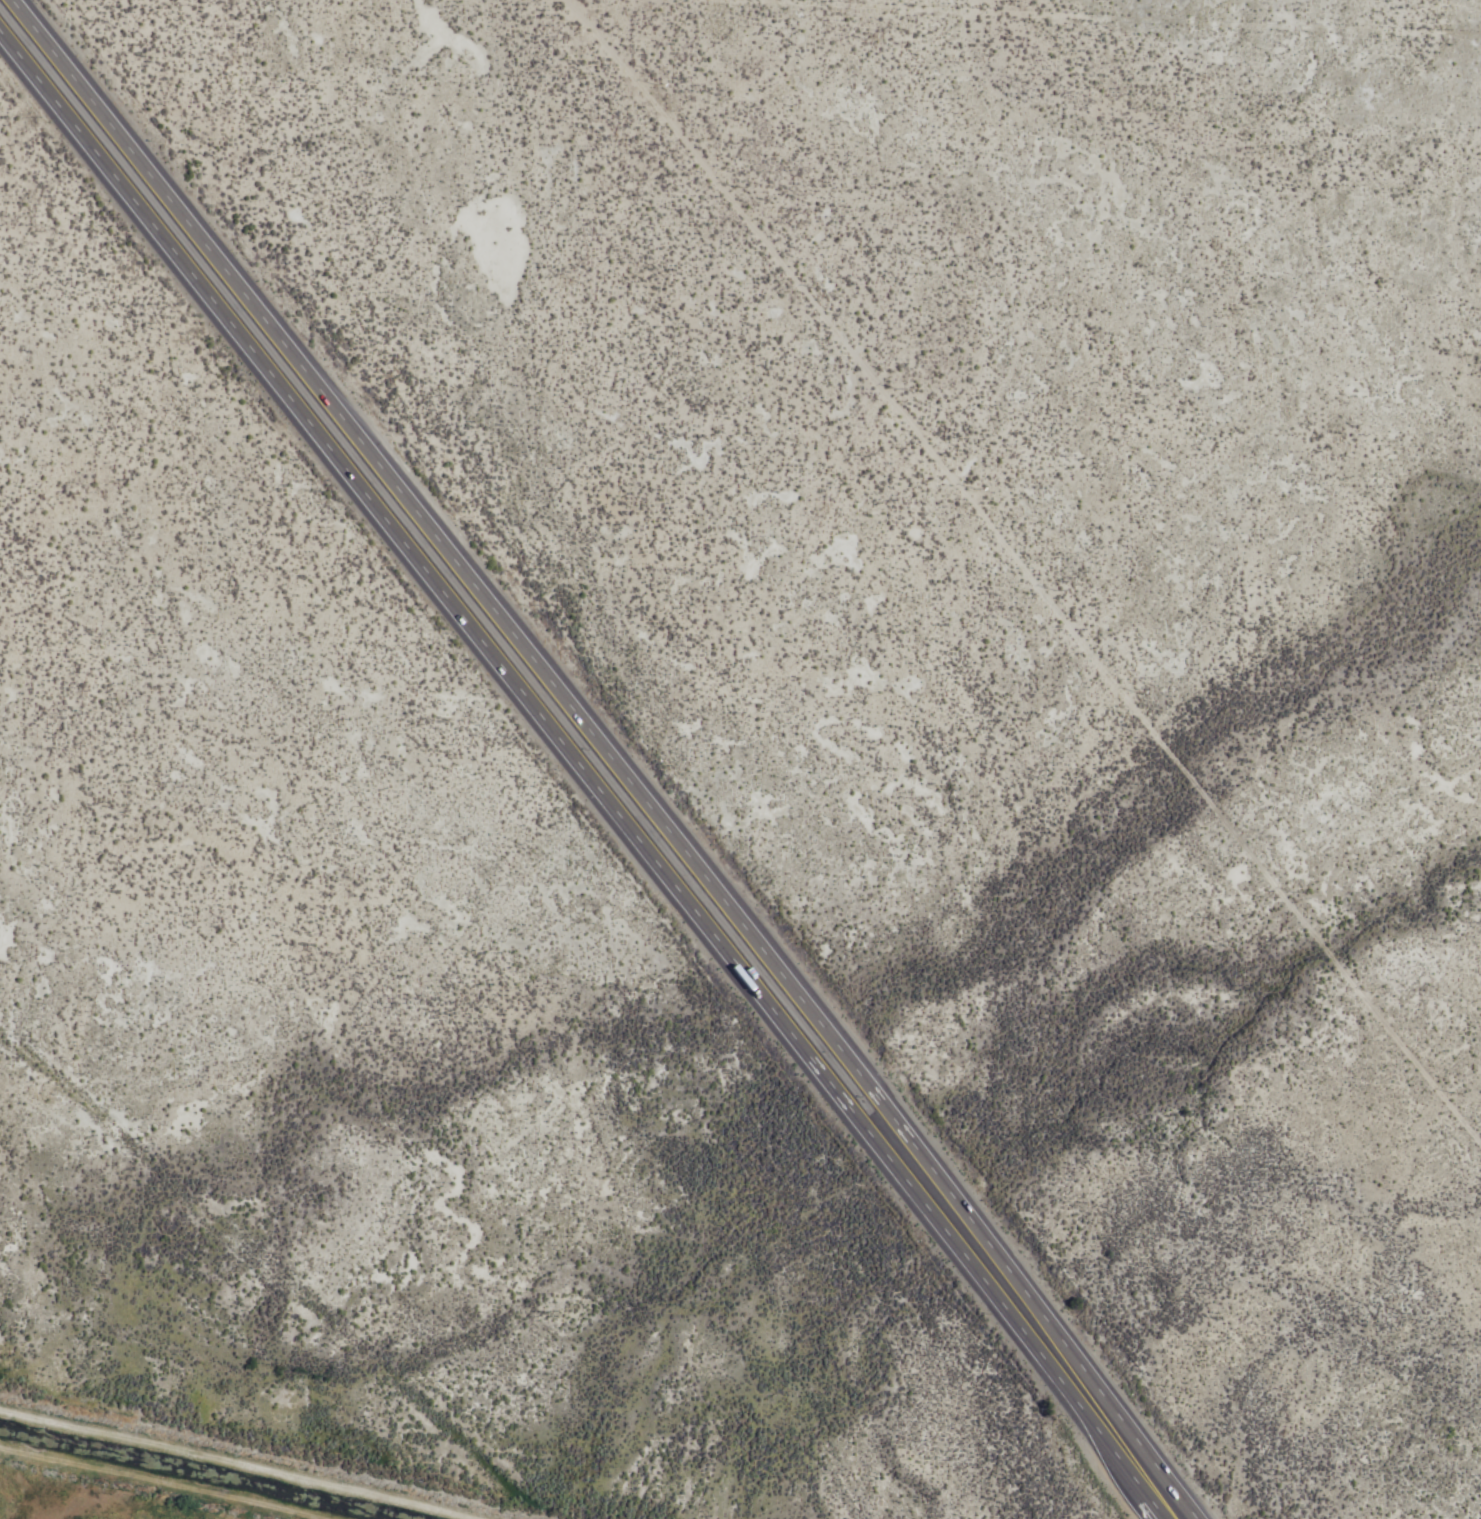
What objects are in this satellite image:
road: (469, 583)
road: (454, 610)
road: (1043, 1345)
road: (242, 1463)
road: (1171, 1517)

